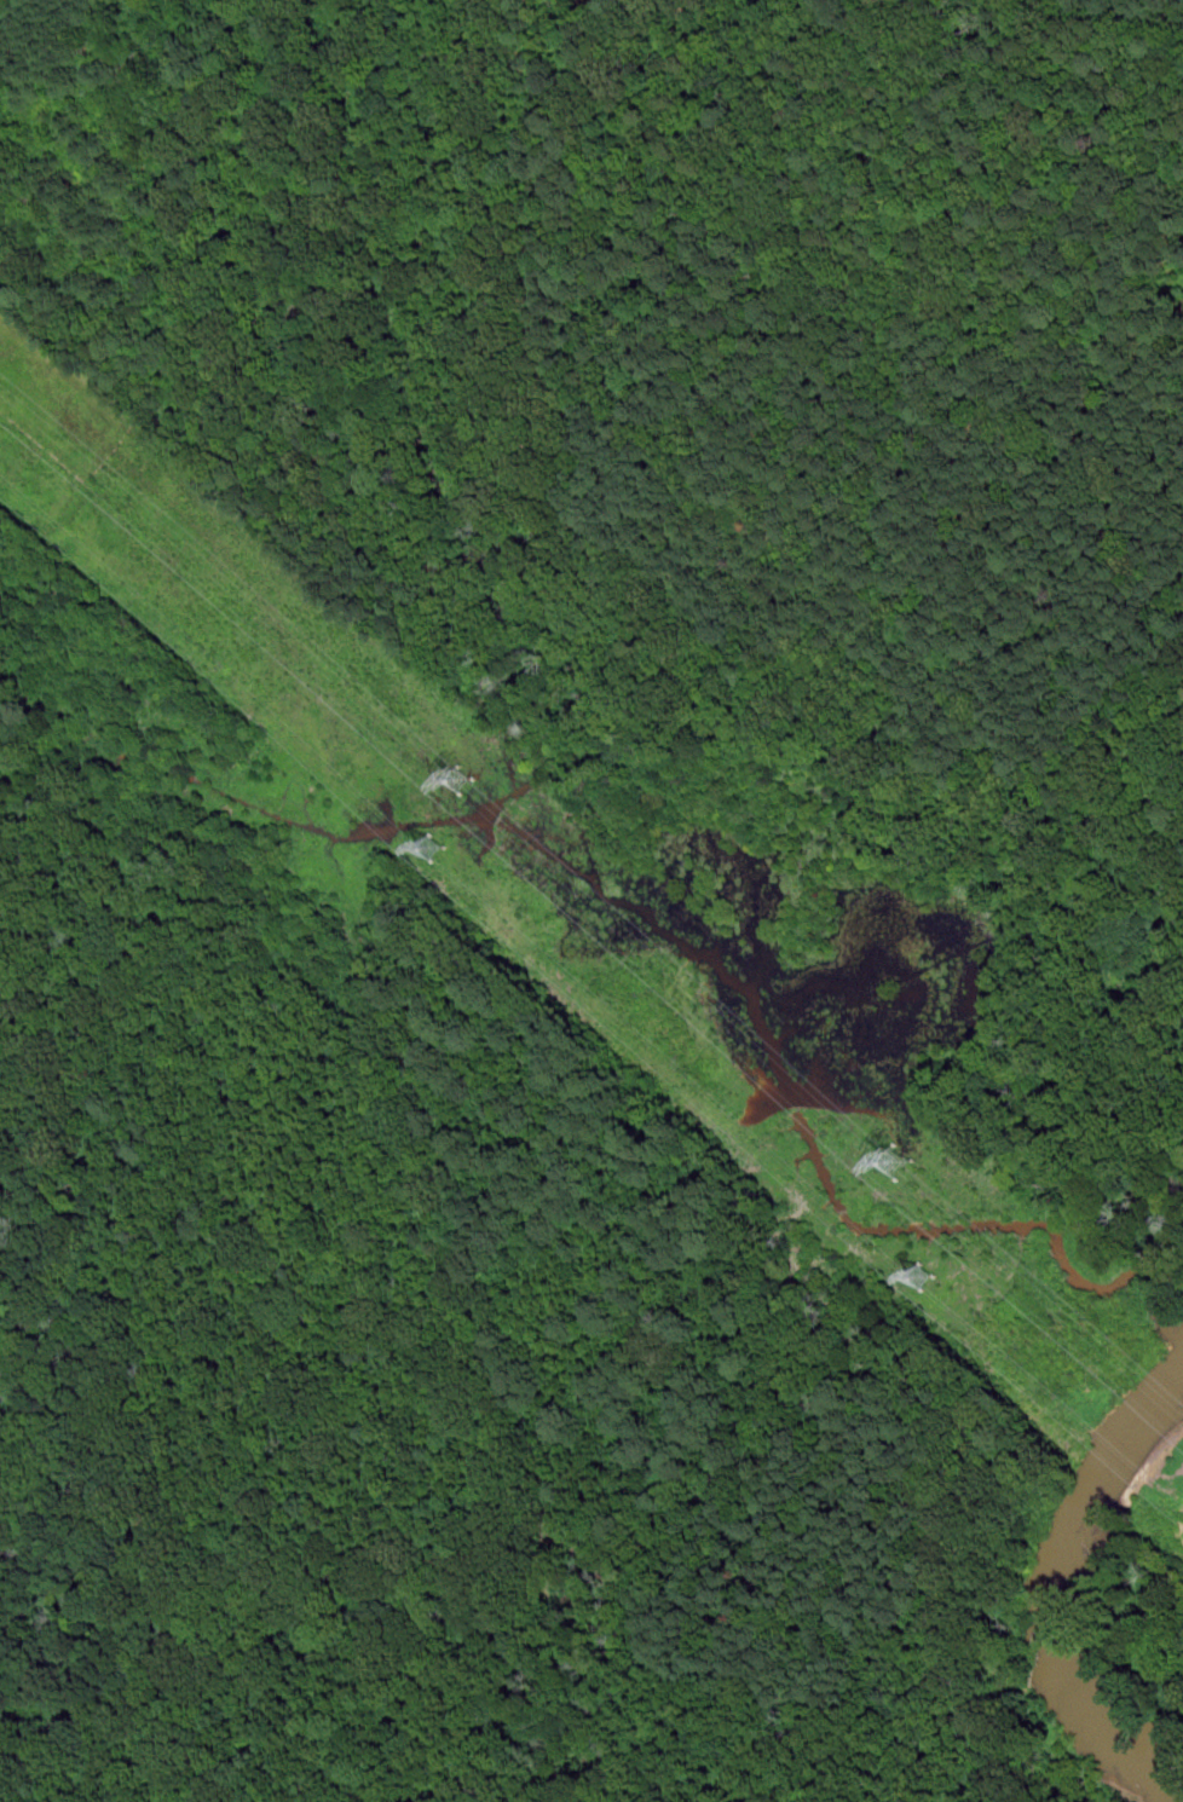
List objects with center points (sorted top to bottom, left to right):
power tower: (462, 784)
power tower: (432, 851)
power tower: (898, 1163)
building: (919, 1276)
power tower: (921, 1280)
river: (1072, 1602)

